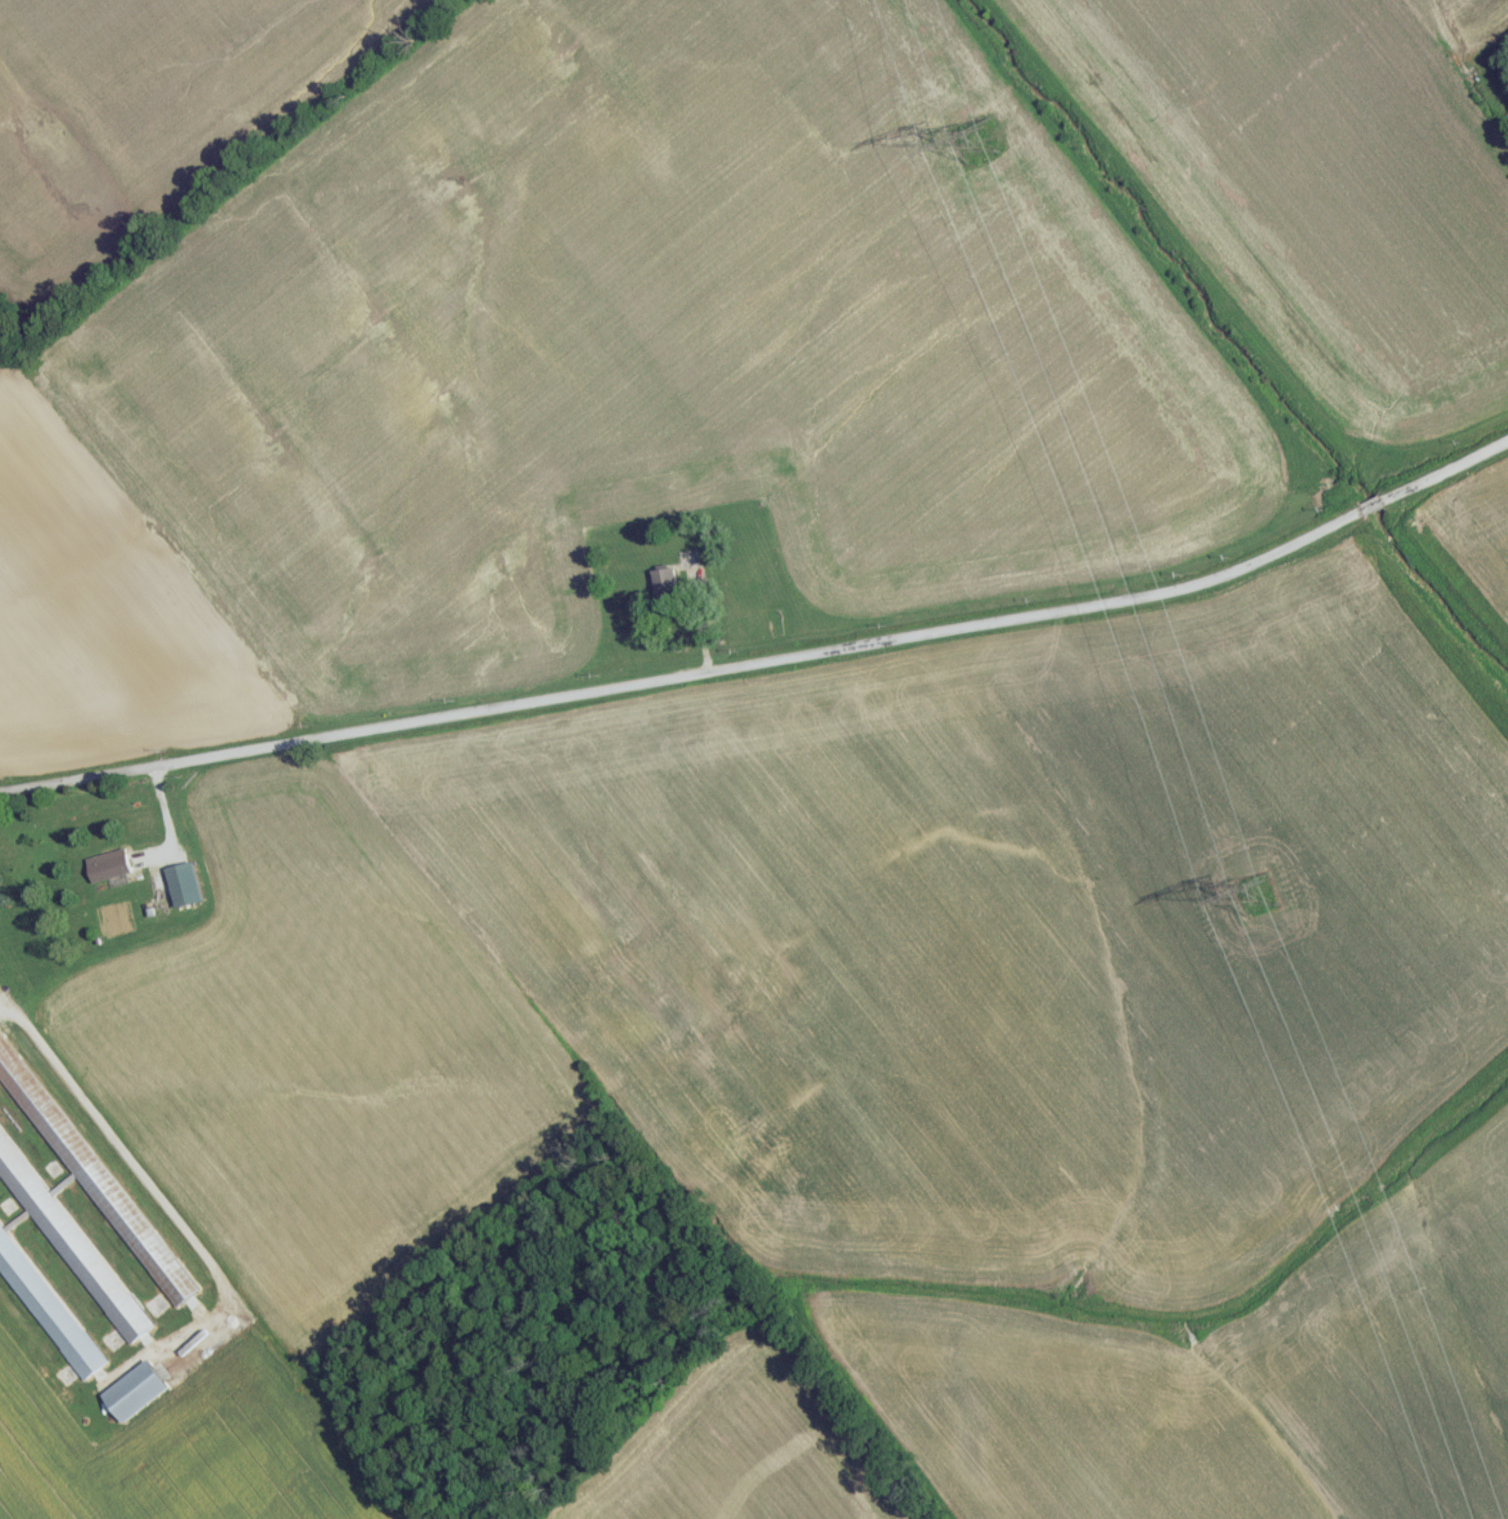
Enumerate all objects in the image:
power tower: (980, 146)
building: (689, 565)
building: (777, 630)
road: (768, 667)
road: (164, 816)
building: (110, 872)
building: (186, 891)
power tower: (1255, 896)
building: (92, 1178)
building: (68, 1248)
building: (47, 1315)
building: (135, 1397)

